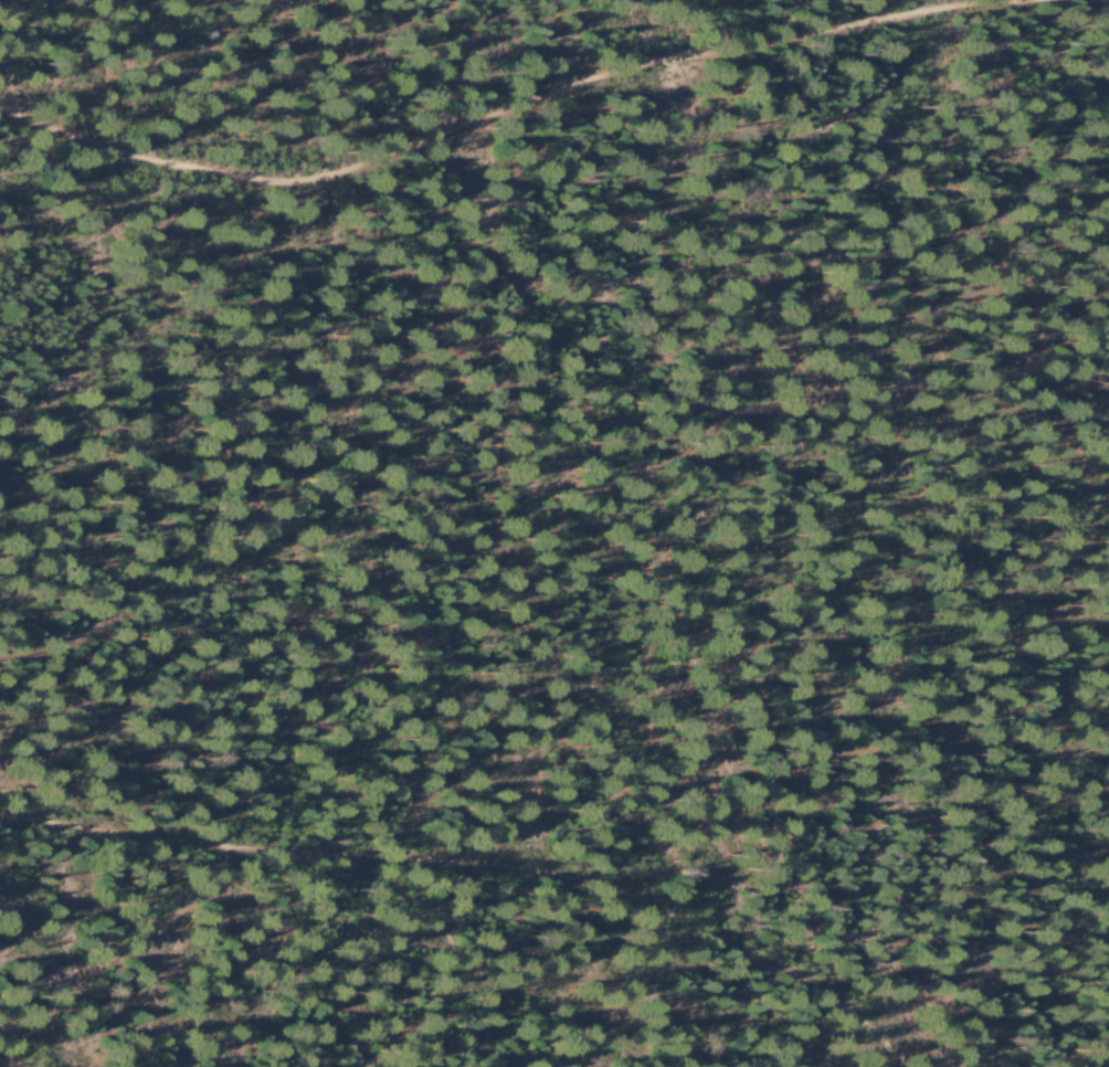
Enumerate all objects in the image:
road: (1100, 1)
road: (499, 110)
road: (476, 864)

